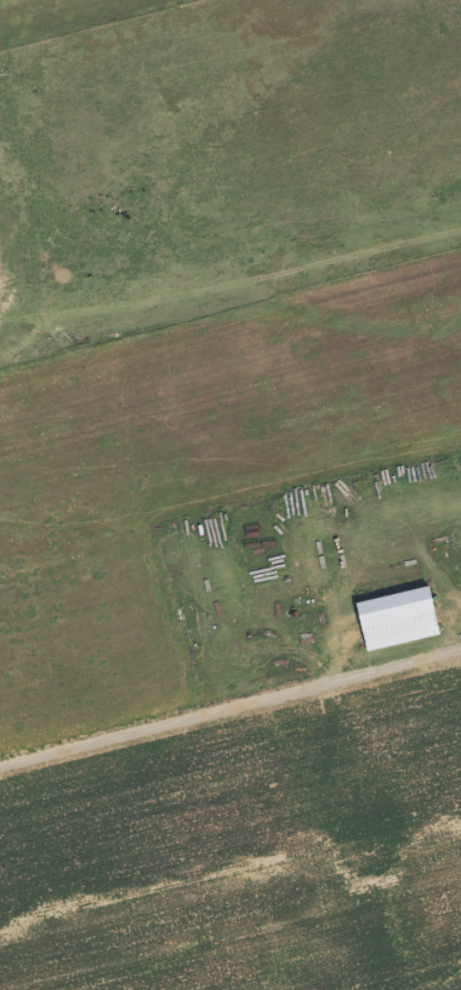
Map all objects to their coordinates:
building: (392, 619)
road: (230, 672)

